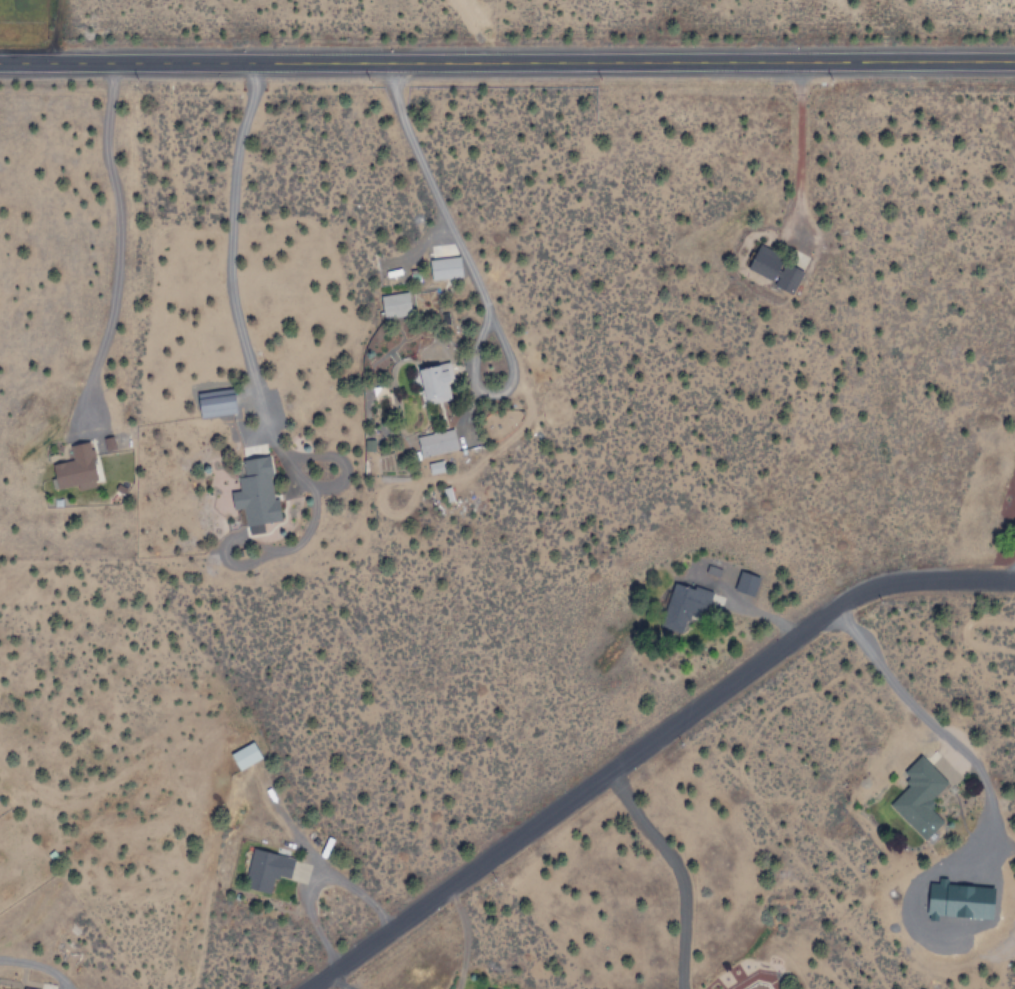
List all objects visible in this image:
road: (507, 58)
building: (443, 262)
building: (773, 270)
building: (394, 305)
building: (432, 382)
building: (215, 403)
building: (435, 443)
building: (75, 469)
building: (252, 500)
building: (1014, 529)
building: (748, 583)
building: (685, 605)
road: (641, 742)
building: (244, 757)
building: (918, 802)
building: (265, 869)
building: (961, 900)
building: (758, 987)
building: (488, 988)

